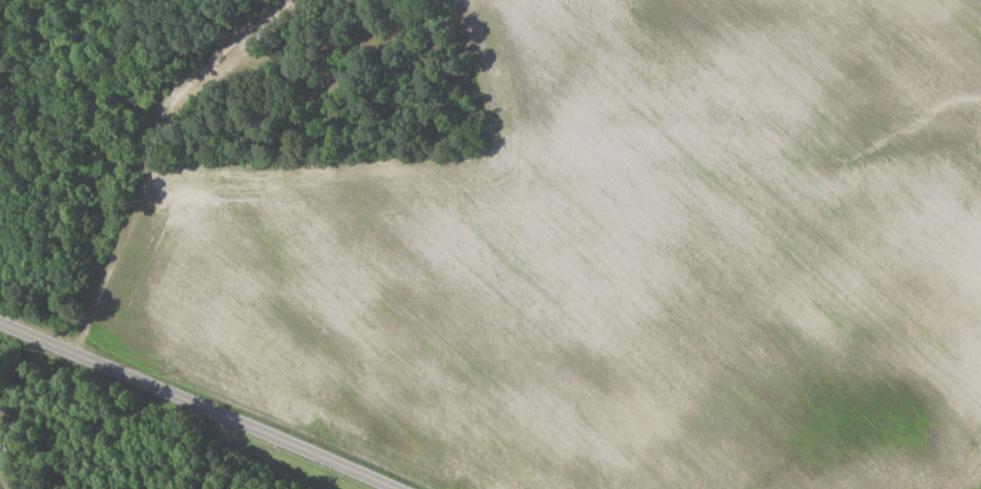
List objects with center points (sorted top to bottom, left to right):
road: (140, 161)
road: (202, 401)

